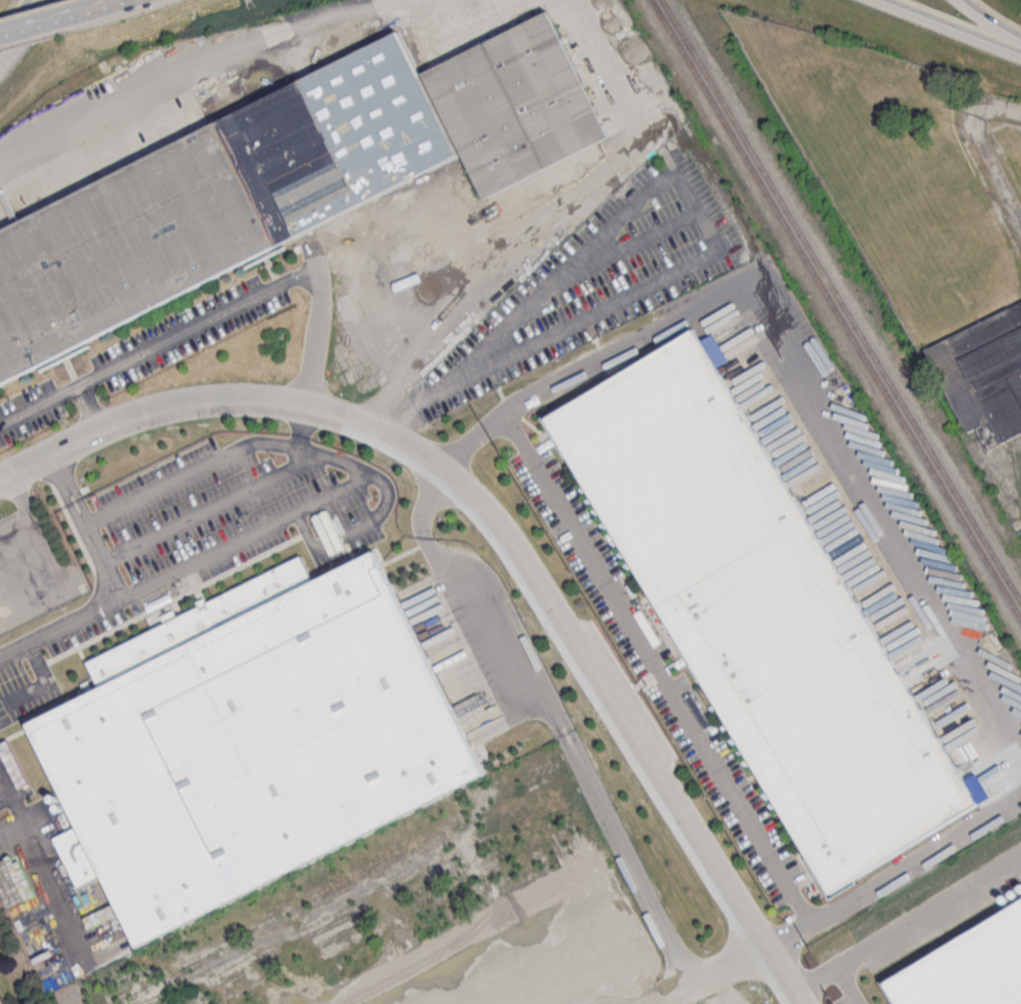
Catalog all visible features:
road: (98, 5)
road: (11, 14)
road: (990, 20)
road: (41, 21)
road: (316, 24)
road: (950, 27)
road: (24, 31)
road: (542, 75)
road: (502, 85)
building: (514, 101)
road: (107, 105)
road: (997, 108)
building: (347, 130)
road: (561, 131)
road: (996, 146)
road: (992, 173)
road: (501, 201)
road: (730, 202)
road: (702, 225)
building: (123, 248)
parking lot: (600, 278)
road: (538, 285)
road: (442, 286)
railway: (841, 299)
railway: (835, 308)
road: (578, 314)
road: (158, 345)
building: (984, 372)
road: (801, 387)
road: (89, 407)
road: (406, 415)
road: (302, 426)
road: (305, 450)
road: (465, 450)
road: (211, 509)
road: (502, 530)
road: (248, 537)
road: (118, 588)
building: (0, 604)
building: (762, 610)
road: (658, 668)
road: (530, 680)
road: (45, 687)
building: (252, 740)
road: (9, 789)
road: (894, 875)
road: (558, 914)
road: (907, 927)
road: (585, 950)
building: (968, 967)
road: (718, 971)
road: (490, 979)
road: (848, 986)

